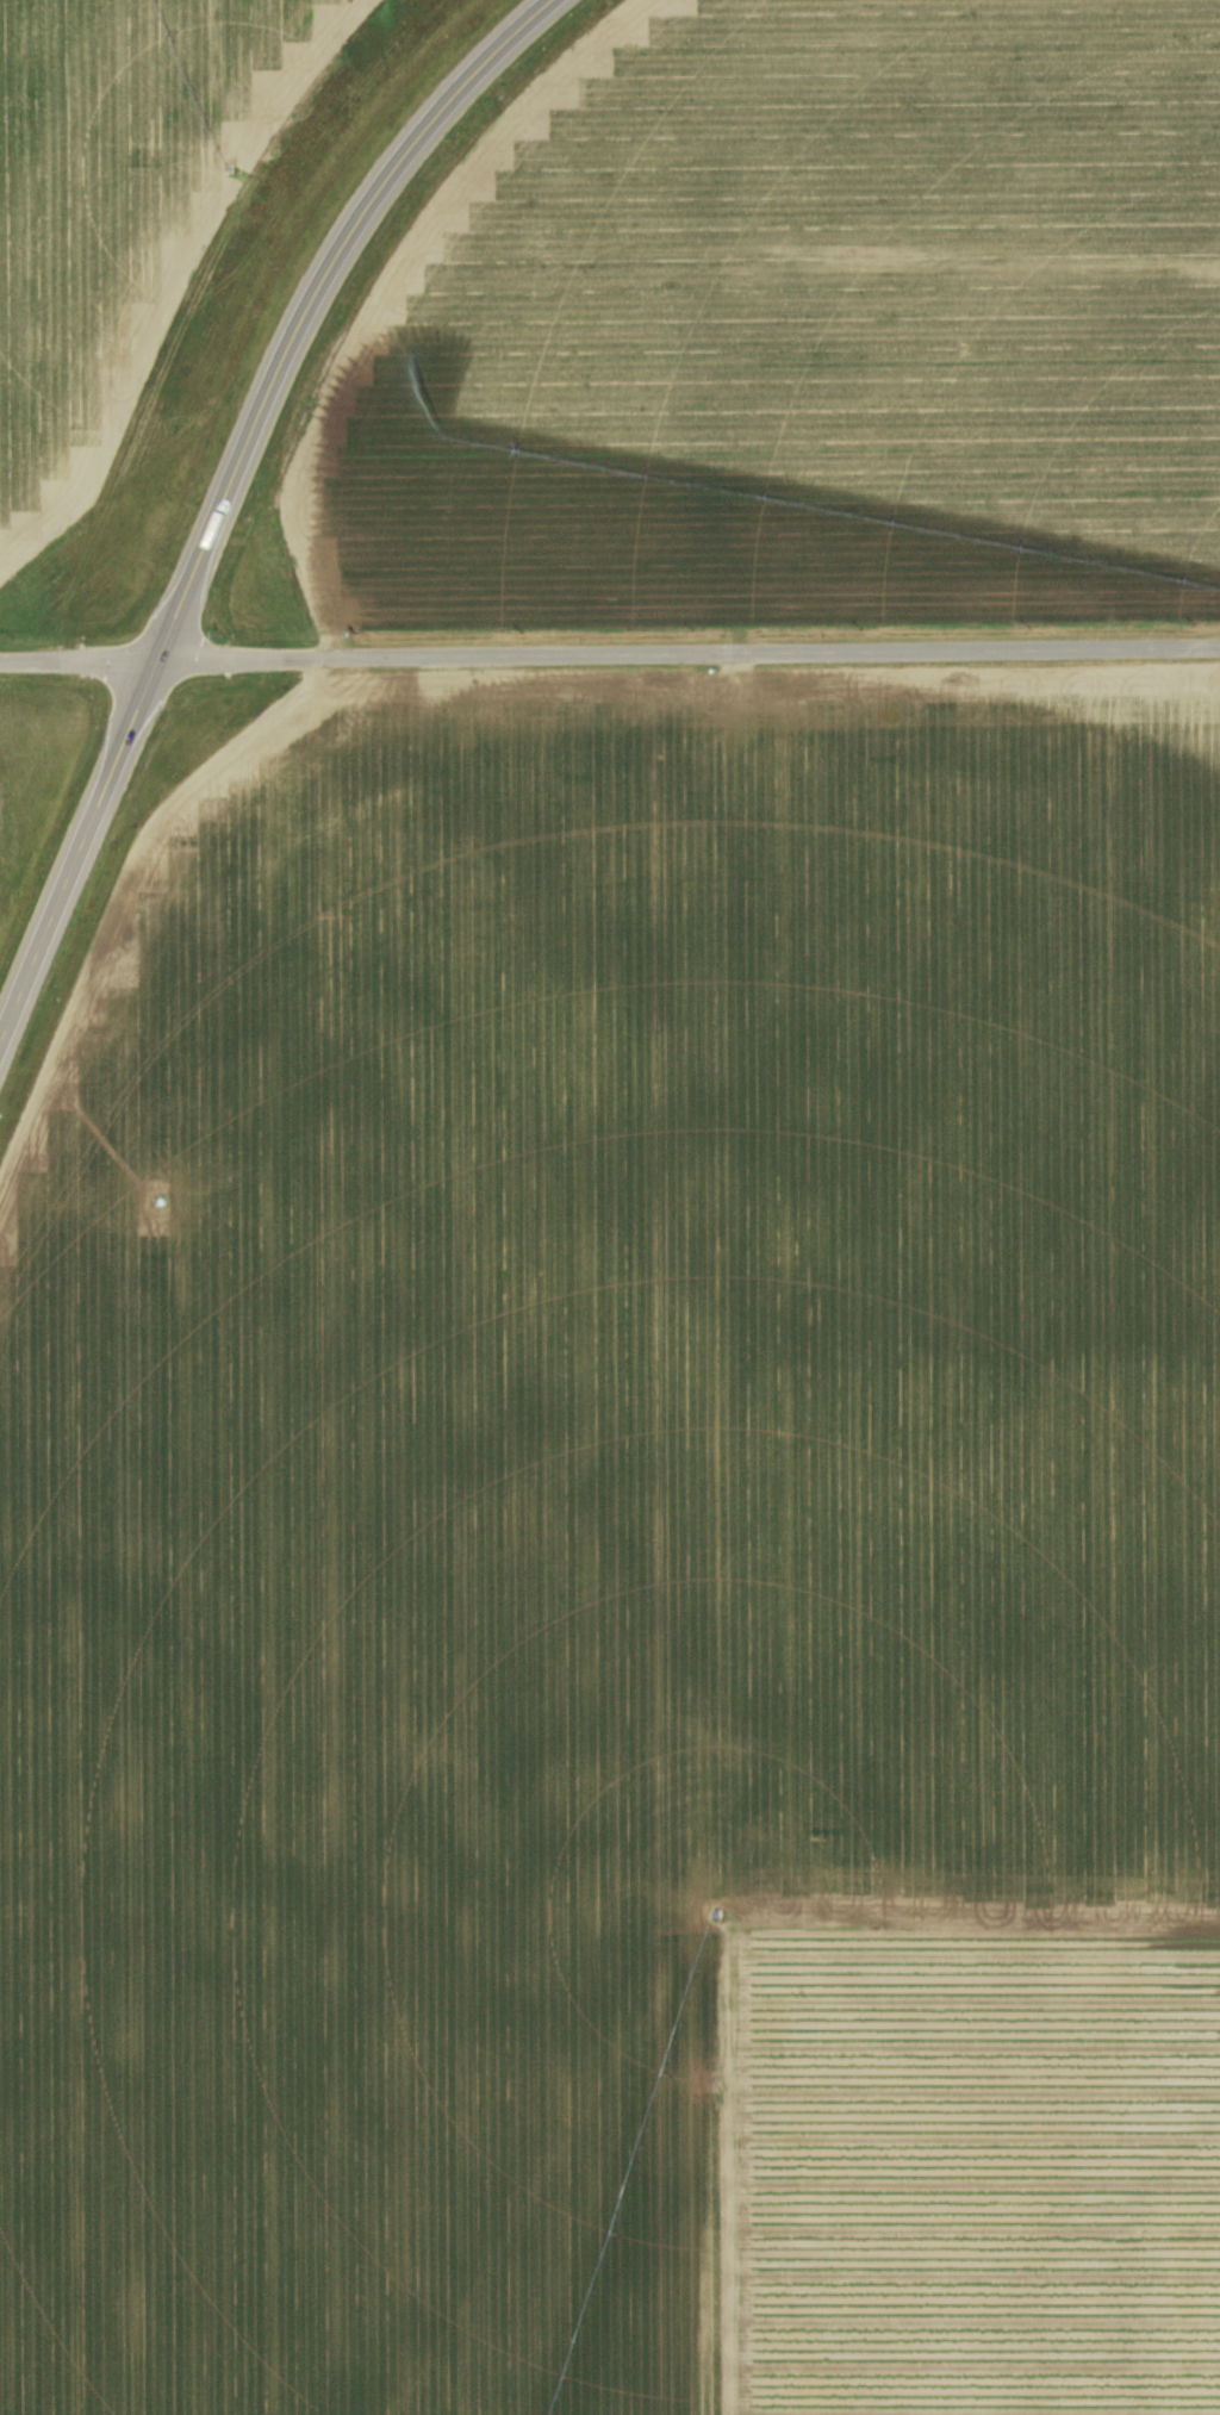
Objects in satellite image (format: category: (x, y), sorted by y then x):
crop: (117, 208)
crop: (795, 328)
road: (226, 487)
road: (609, 656)
crop: (623, 1570)

